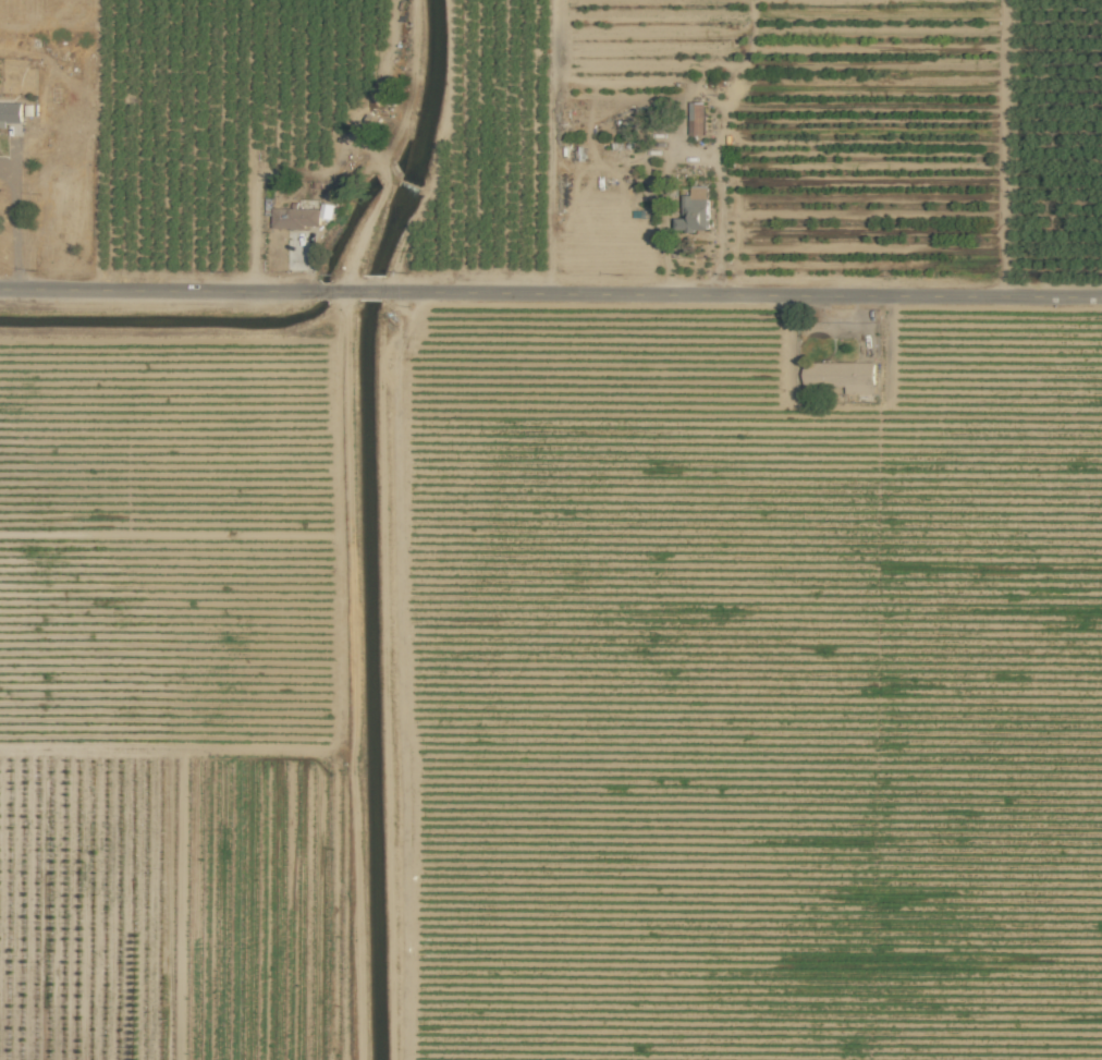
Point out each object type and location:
building: (10, 113)
building: (695, 118)
building: (695, 210)
building: (296, 218)
road: (722, 220)
road: (15, 224)
road: (550, 302)
building: (842, 375)

